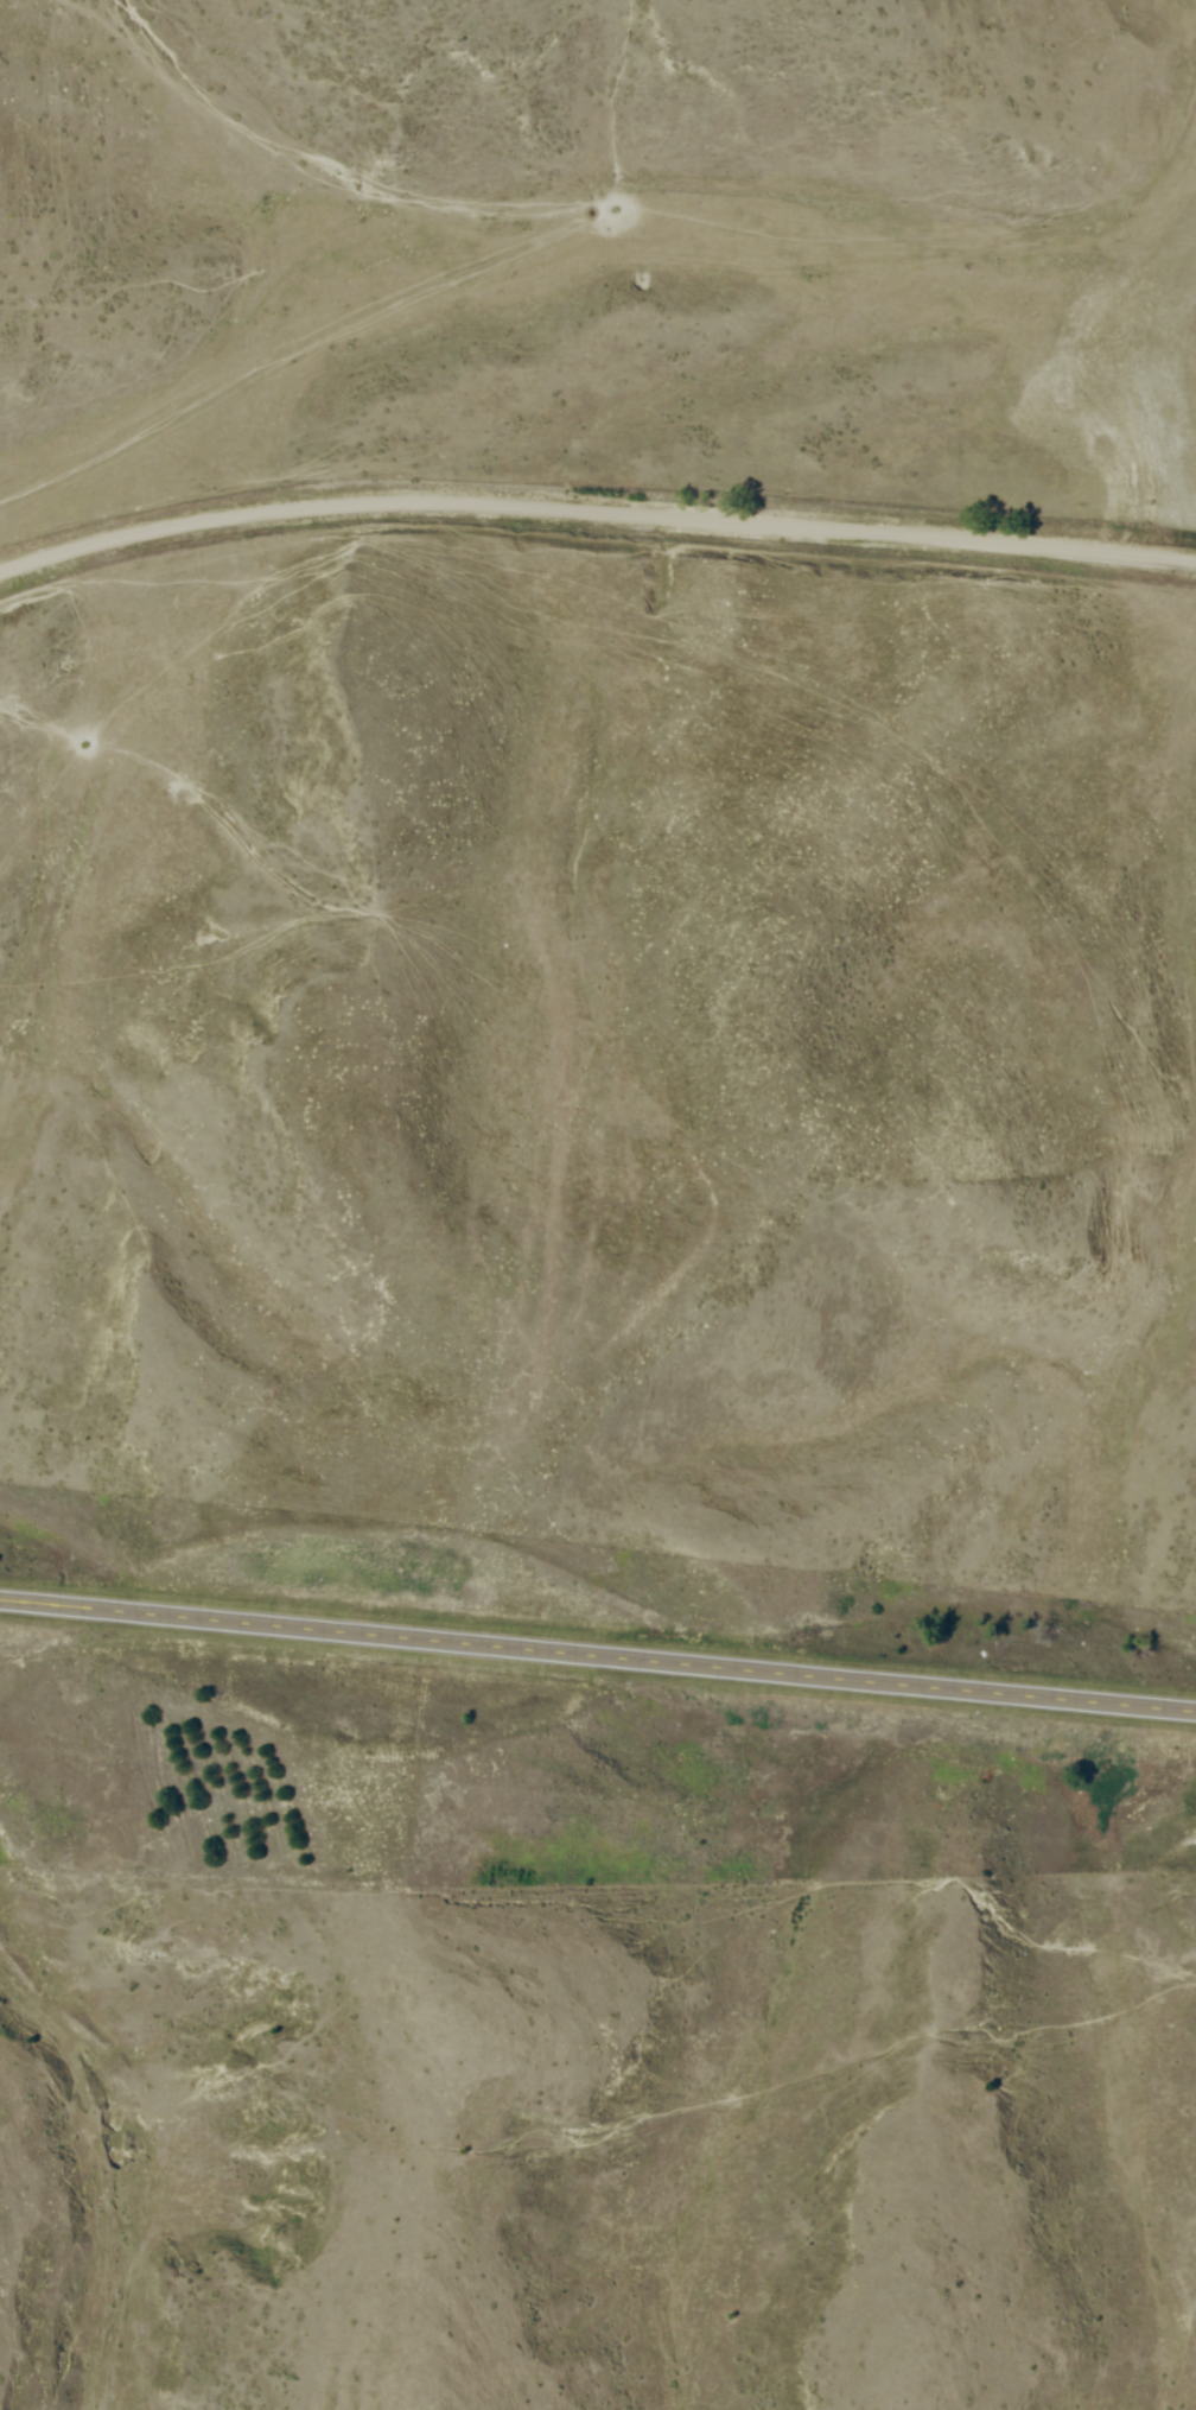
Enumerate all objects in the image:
road: (594, 514)
road: (597, 1663)

